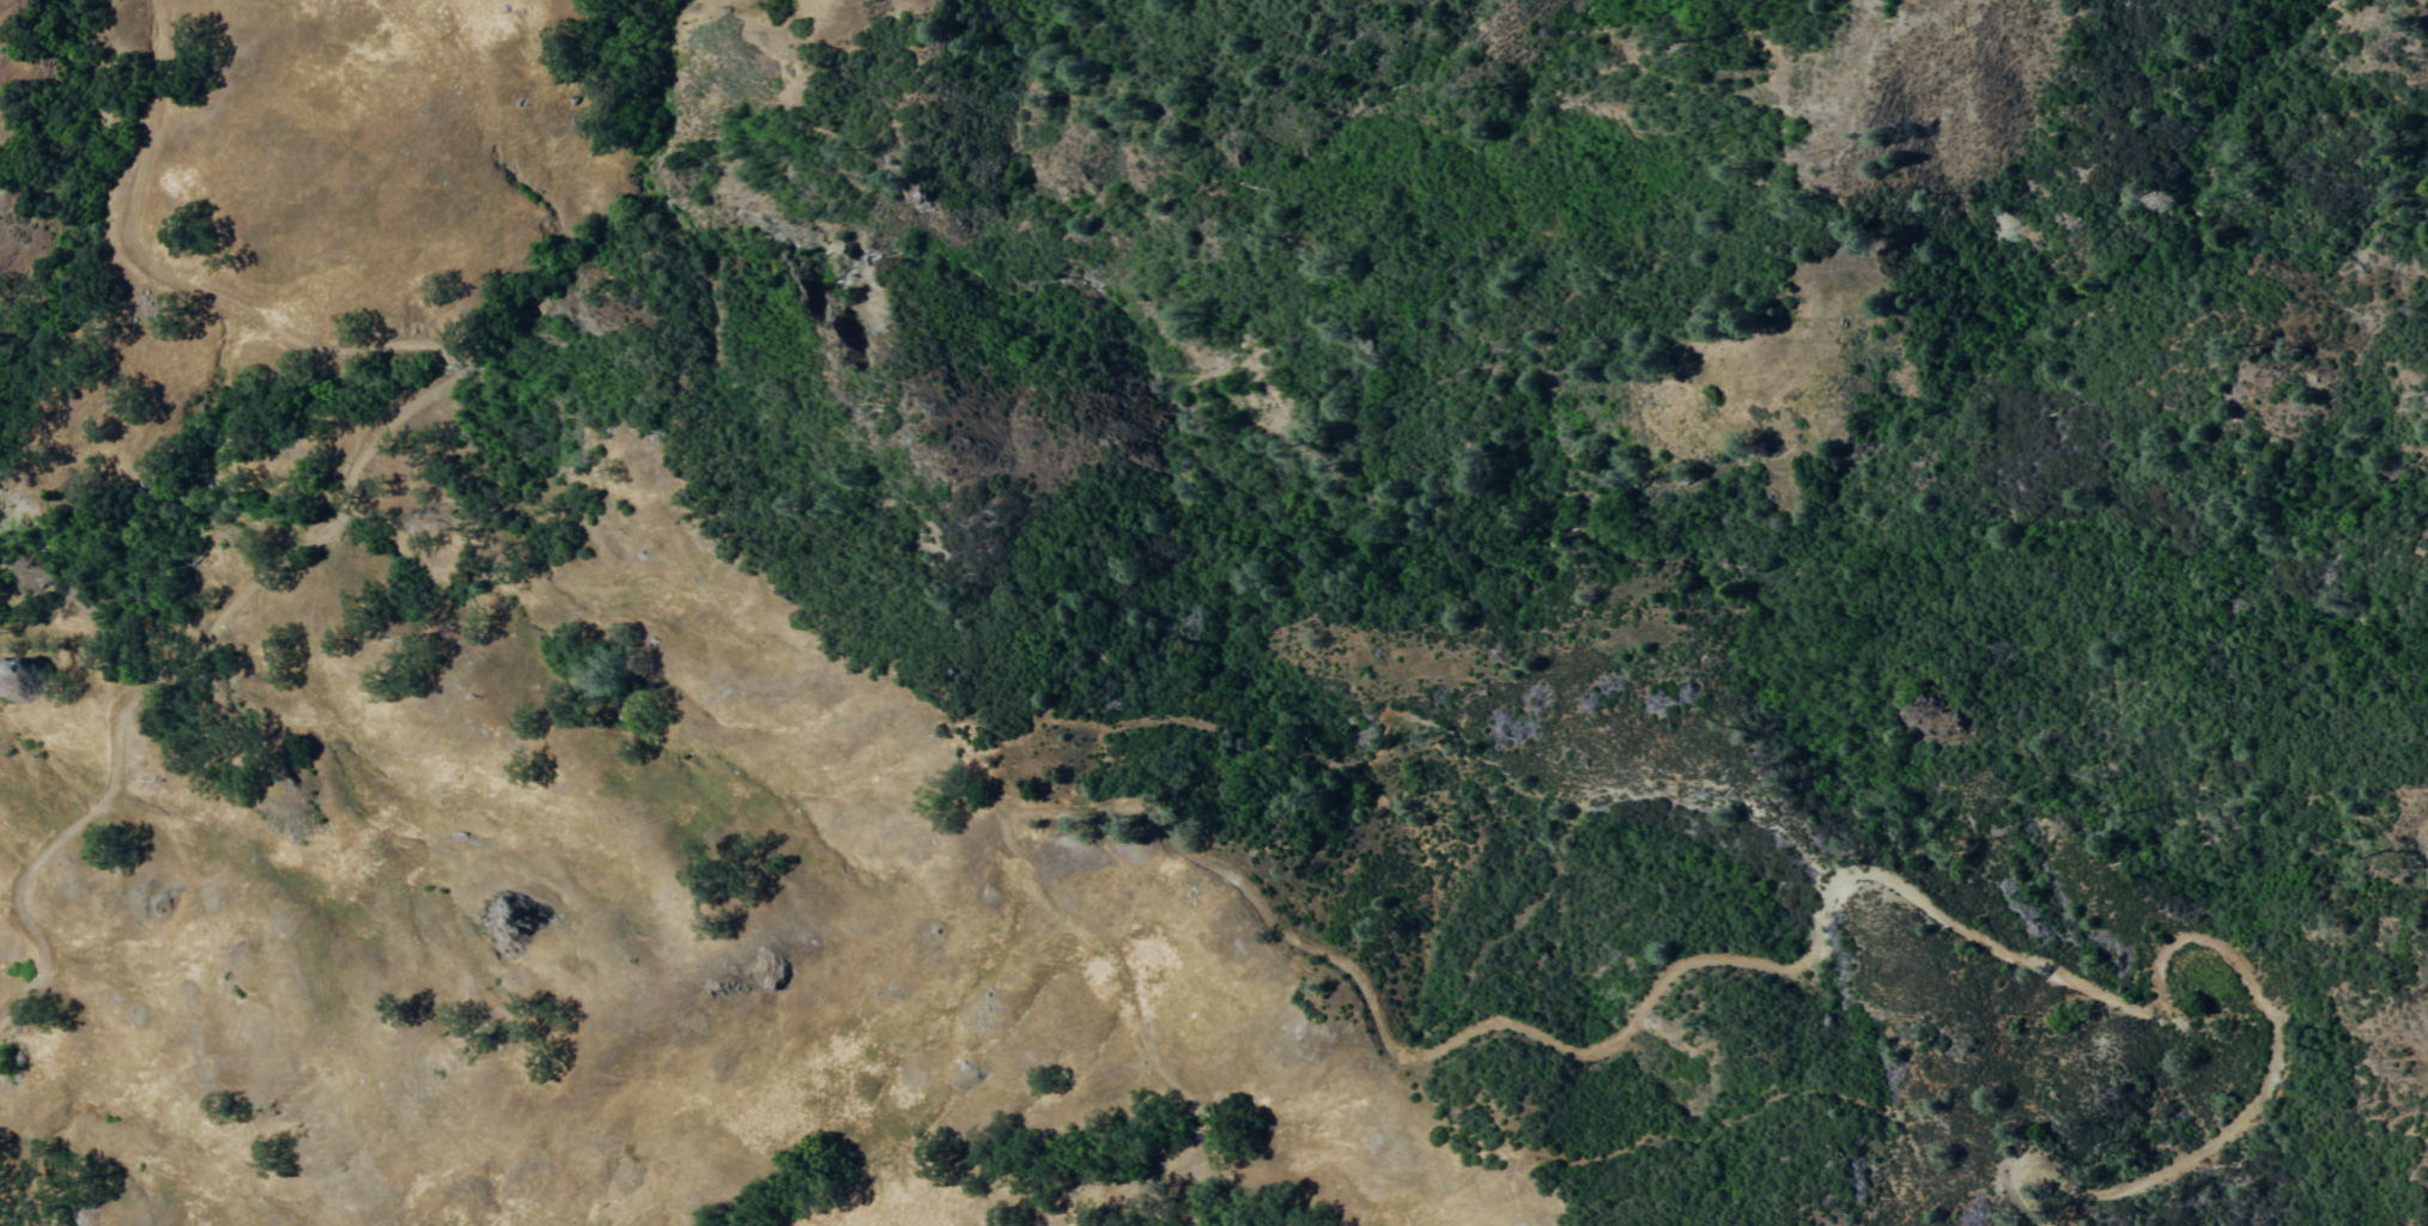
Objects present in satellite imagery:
road: (360, 456)

